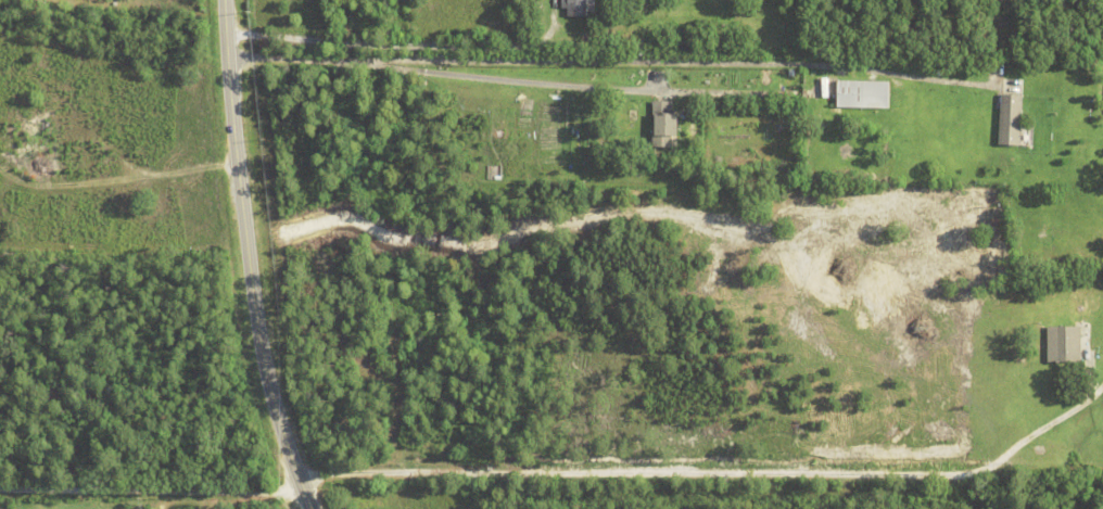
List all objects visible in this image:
building: (575, 8)
road: (370, 38)
road: (608, 62)
road: (506, 79)
building: (863, 96)
building: (1011, 122)
building: (664, 126)
building: (996, 222)
building: (952, 229)
building: (968, 236)
road: (250, 258)
building: (1064, 346)
building: (1072, 371)
road: (717, 474)
road: (151, 491)

